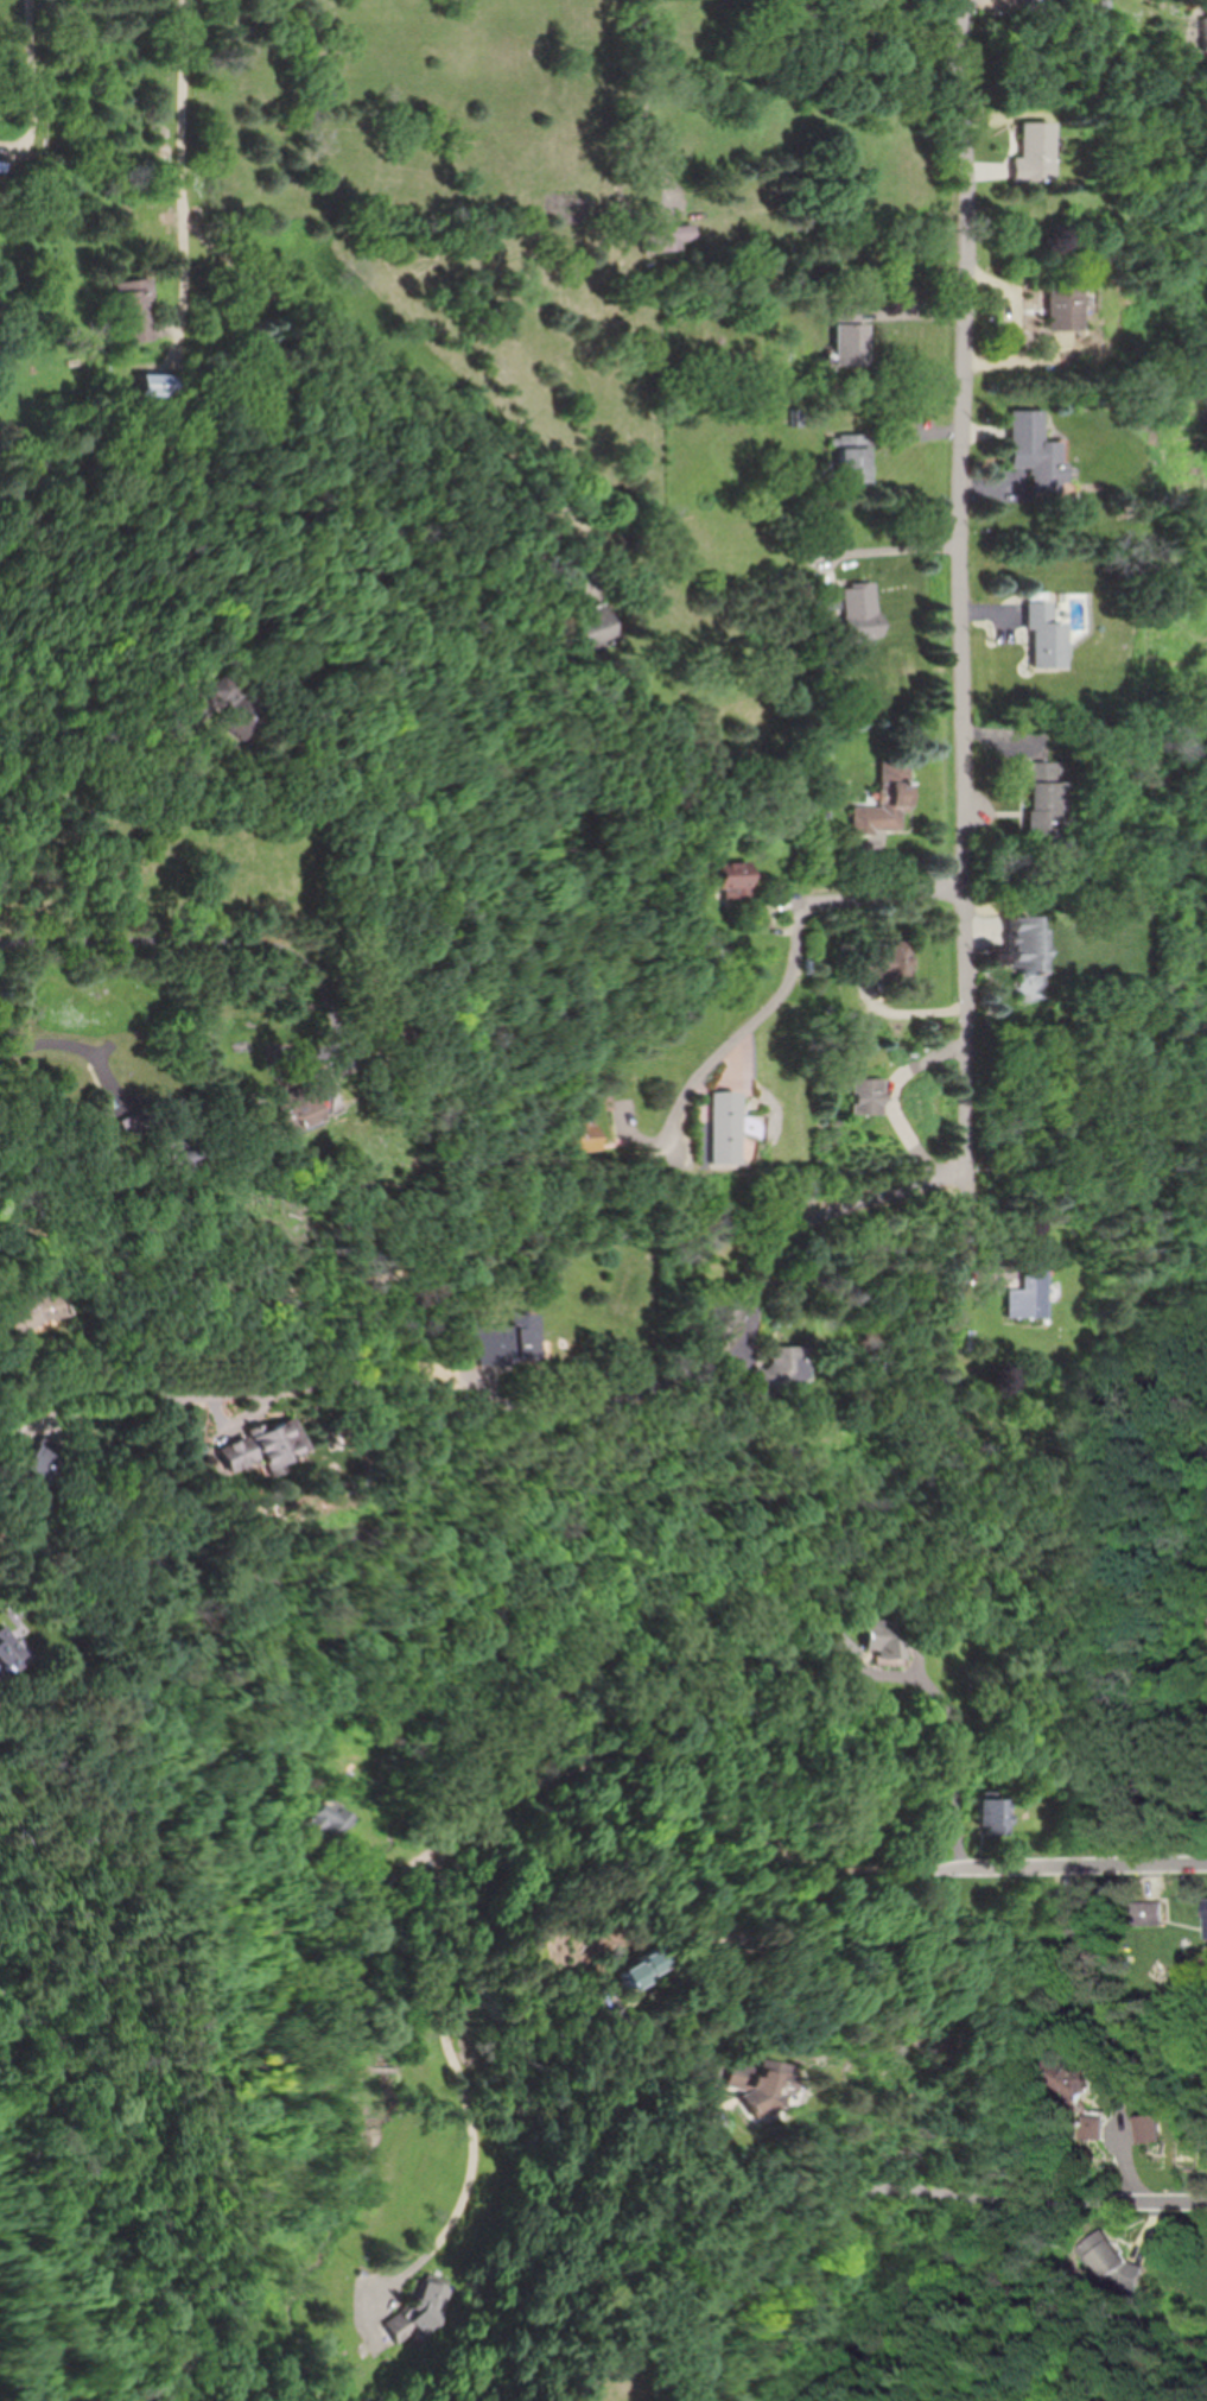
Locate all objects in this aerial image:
road: (31, 76)
road: (189, 118)
building: (1031, 151)
building: (668, 237)
building: (1061, 310)
building: (131, 311)
building: (850, 337)
road: (396, 380)
building: (153, 385)
building: (1034, 449)
building: (852, 457)
road: (900, 550)
road: (972, 579)
building: (862, 610)
building: (591, 629)
building: (1043, 635)
building: (887, 800)
building: (1041, 800)
road: (113, 811)
building: (737, 887)
road: (190, 942)
building: (1022, 944)
building: (722, 957)
building: (883, 962)
road: (90, 1056)
building: (869, 1095)
building: (292, 1109)
building: (584, 1129)
building: (171, 1152)
road: (548, 1233)
road: (796, 1266)
building: (1030, 1291)
building: (34, 1309)
building: (507, 1339)
building: (780, 1370)
road: (323, 1390)
building: (261, 1446)
building: (28, 1470)
building: (889, 1636)
building: (6, 1649)
building: (840, 1649)
road: (604, 1762)
road: (960, 1763)
building: (986, 1813)
building: (335, 1814)
building: (244, 1875)
building: (919, 1893)
building: (1146, 1911)
building: (1206, 1931)
building: (625, 1966)
building: (749, 2076)
building: (1073, 2084)
road: (1042, 2200)
building: (1111, 2262)
building: (419, 2306)

